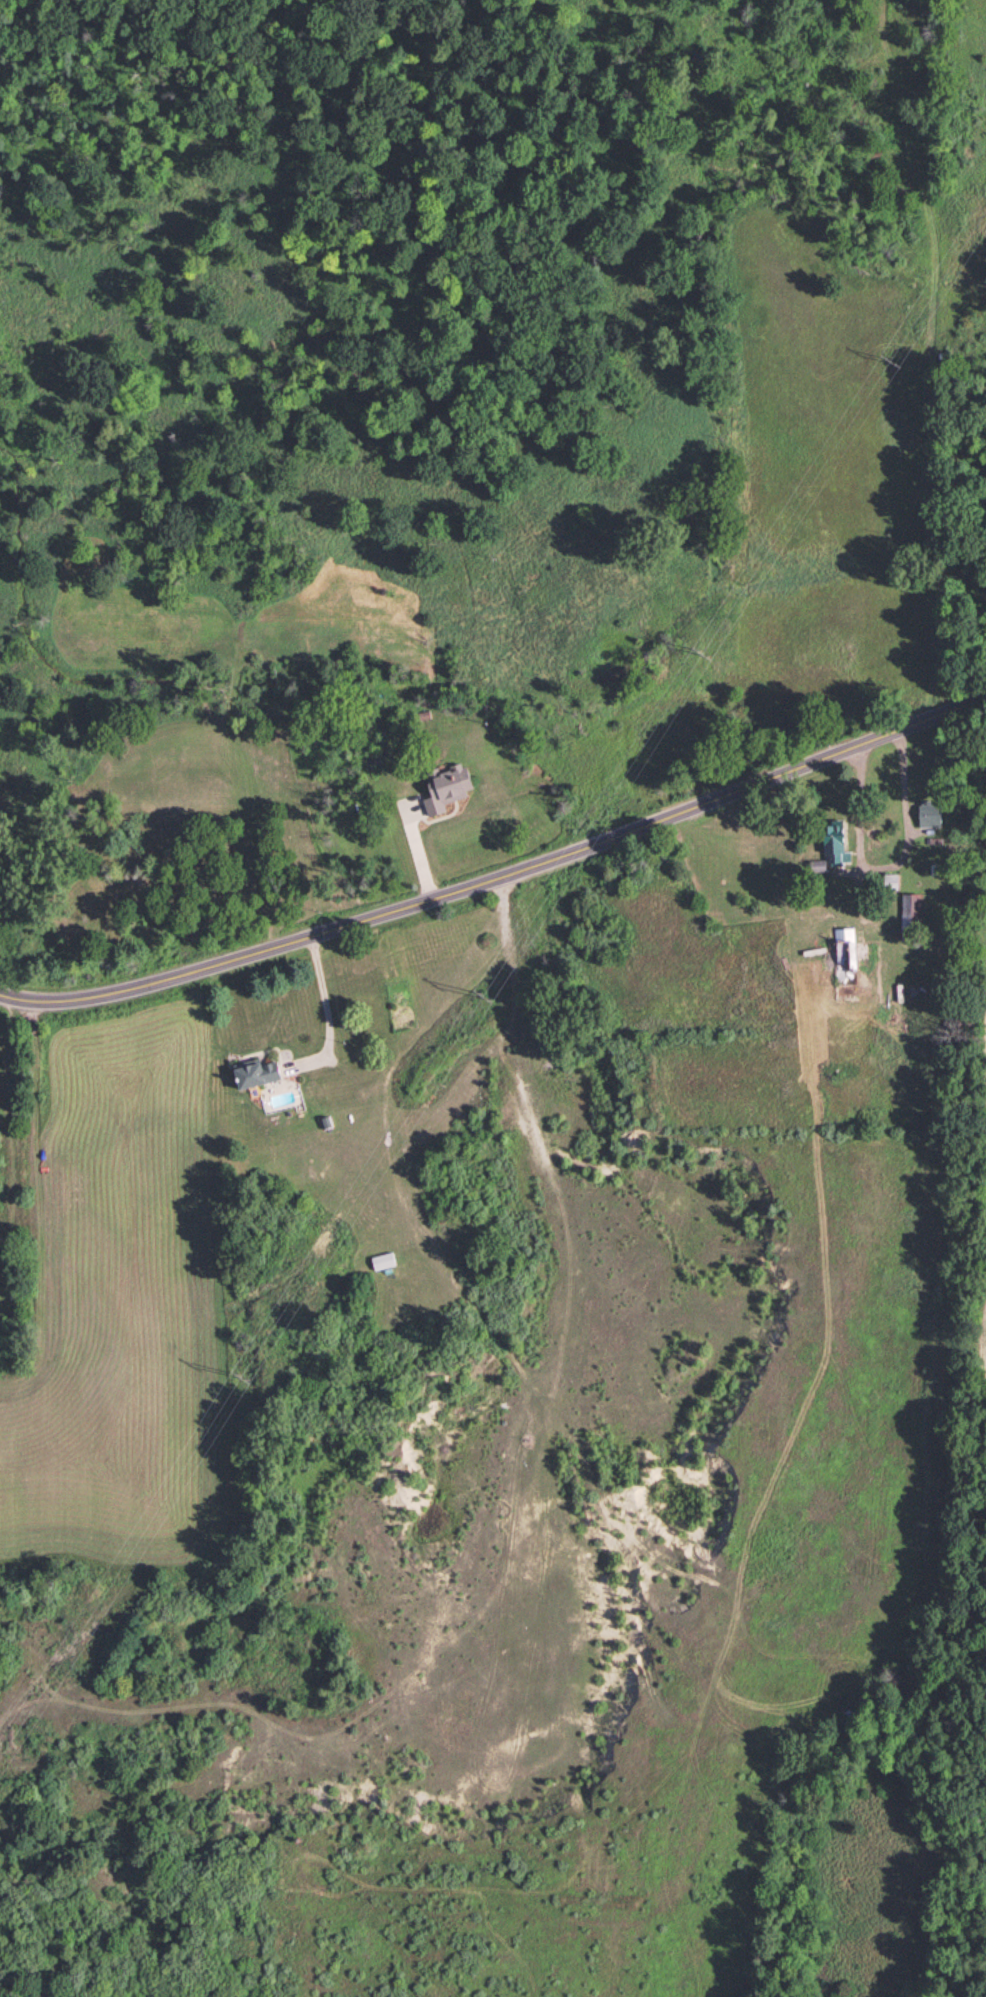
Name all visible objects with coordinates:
power tower: (892, 364)
power tower: (703, 653)
road: (903, 788)
building: (447, 789)
road: (858, 807)
building: (929, 815)
building: (832, 847)
road: (503, 885)
building: (911, 918)
crop: (985, 941)
building: (846, 965)
power tower: (488, 998)
road: (326, 1018)
building: (256, 1075)
crop: (983, 1367)
power tower: (245, 1379)
quarry: (499, 1466)

